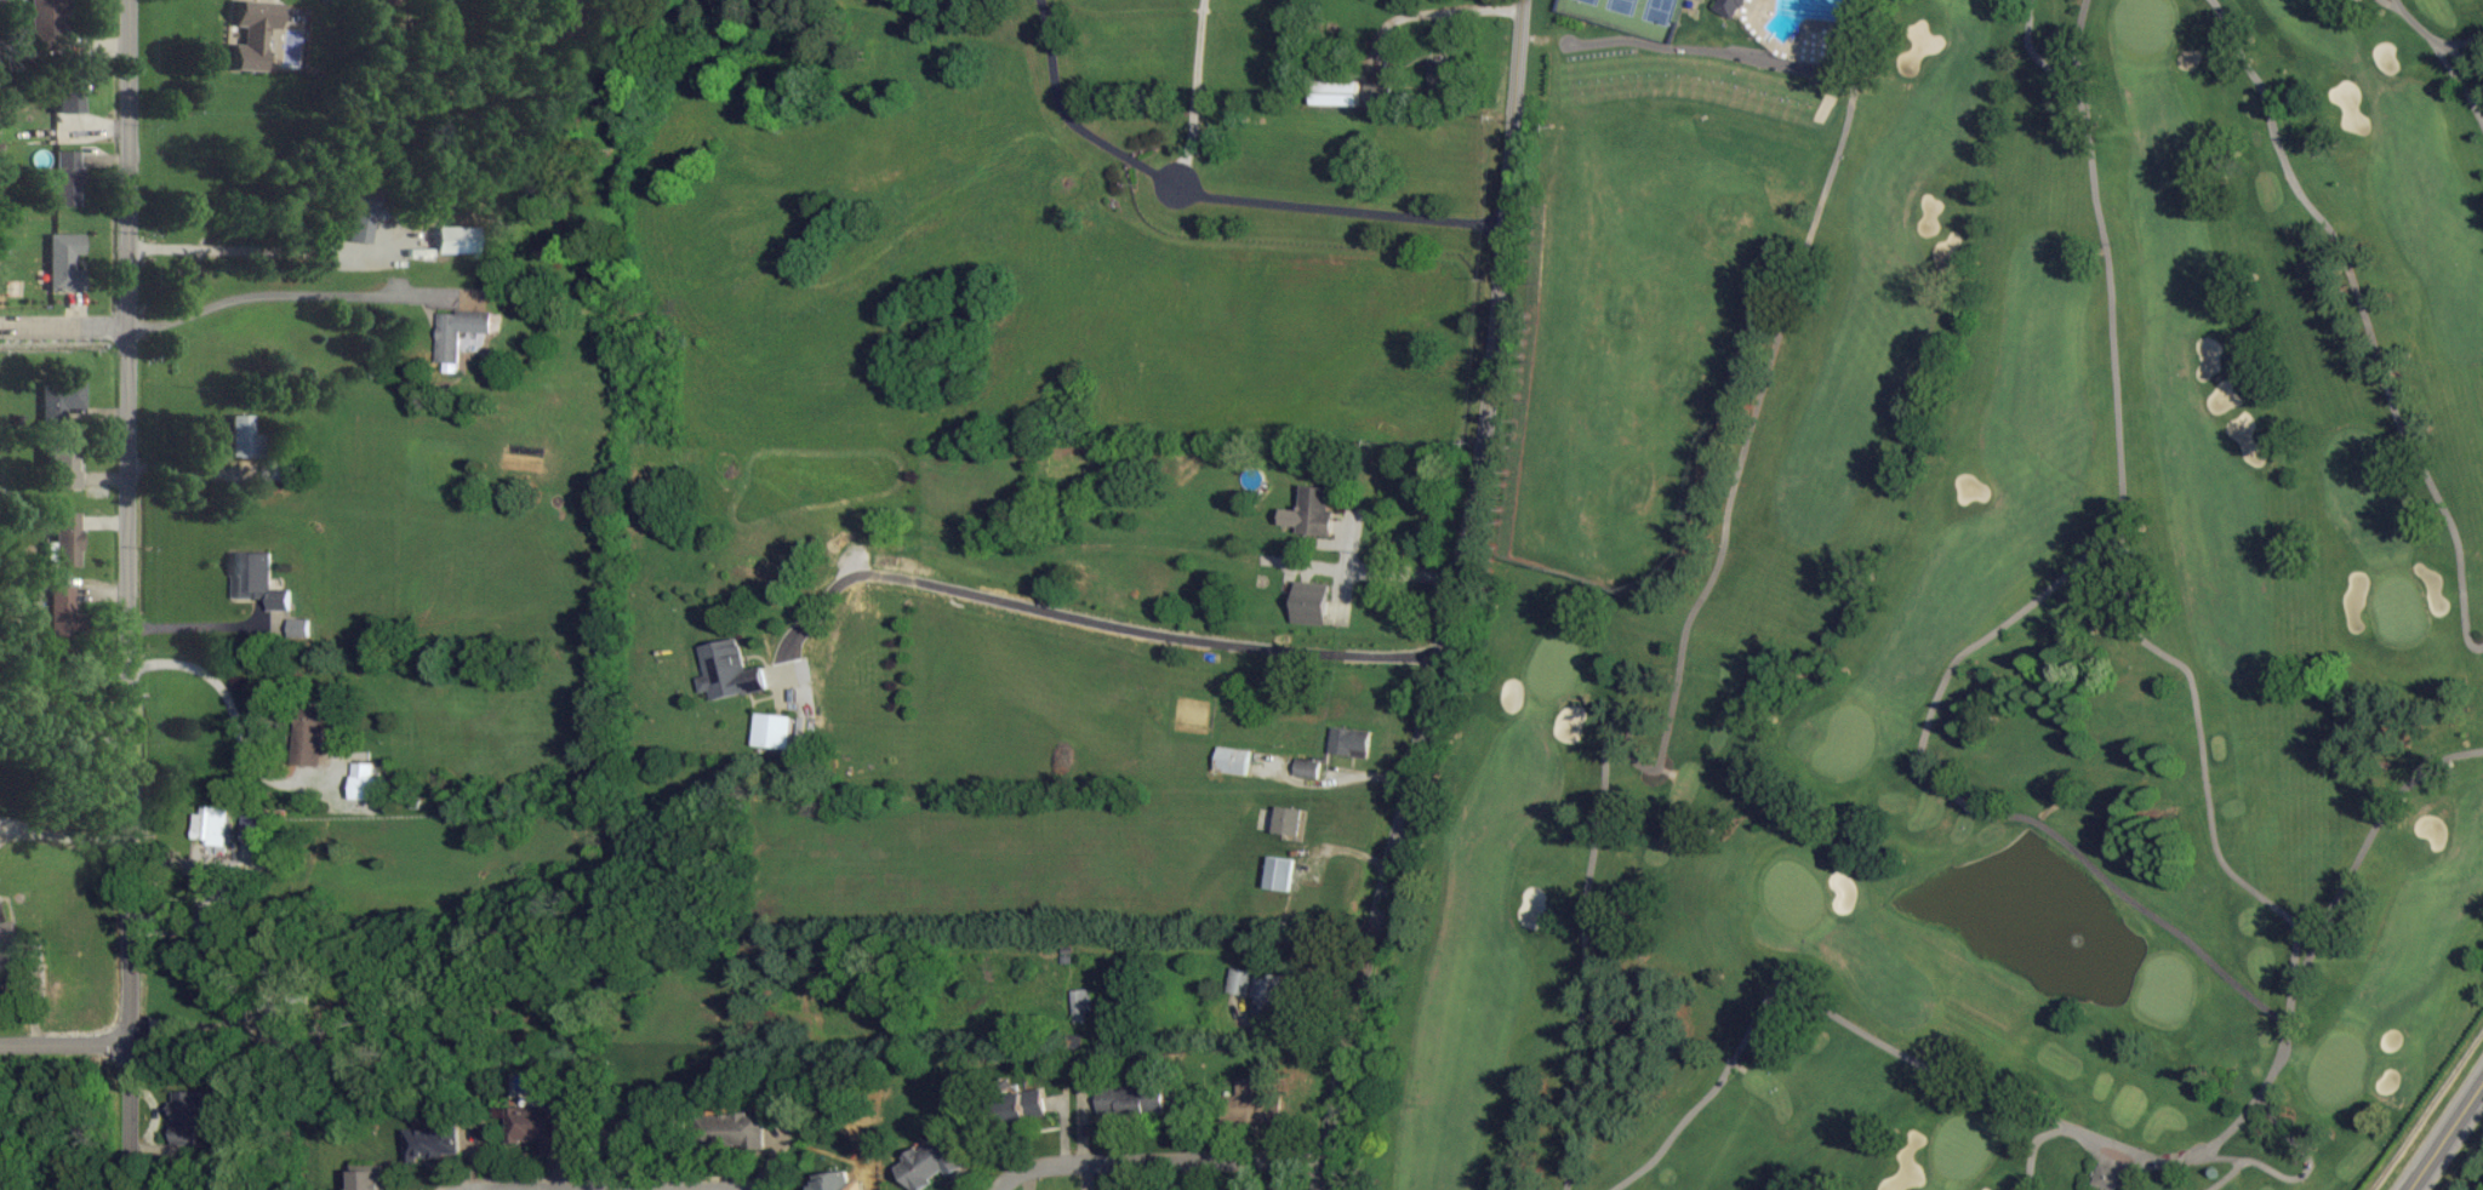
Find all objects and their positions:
building: (1733, 7)
park: (1631, 15)
building: (47, 28)
building: (253, 34)
building: (1438, 73)
road: (1201, 92)
building: (1337, 93)
building: (1380, 93)
building: (68, 95)
road: (1077, 118)
building: (68, 177)
road: (1342, 208)
building: (360, 212)
road: (266, 248)
building: (65, 261)
road: (281, 294)
road: (64, 325)
building: (460, 331)
building: (62, 399)
building: (242, 435)
building: (62, 465)
building: (1313, 511)
building: (64, 539)
road: (1369, 570)
building: (258, 579)
building: (1313, 591)
road: (130, 594)
road: (1451, 600)
park: (1965, 608)
building: (62, 610)
building: (1311, 612)
road: (1077, 616)
building: (301, 628)
building: (729, 670)
road: (239, 702)
road: (67, 711)
building: (774, 730)
building: (309, 736)
building: (1352, 742)
building: (1235, 760)
building: (1308, 767)
building: (367, 782)
building: (1289, 819)
building: (213, 825)
building: (256, 843)
building: (1282, 873)
building: (7, 954)
building: (1241, 980)
building: (1268, 992)
building: (1084, 1005)
road: (65, 1043)
building: (1131, 1100)
building: (1250, 1100)
building: (1024, 1104)
building: (192, 1115)
building: (540, 1126)
building: (734, 1129)
building: (627, 1132)
road: (2443, 1133)
building: (433, 1143)
road: (1155, 1160)
building: (930, 1162)
building: (367, 1177)
building: (2108, 1177)
building: (833, 1182)

